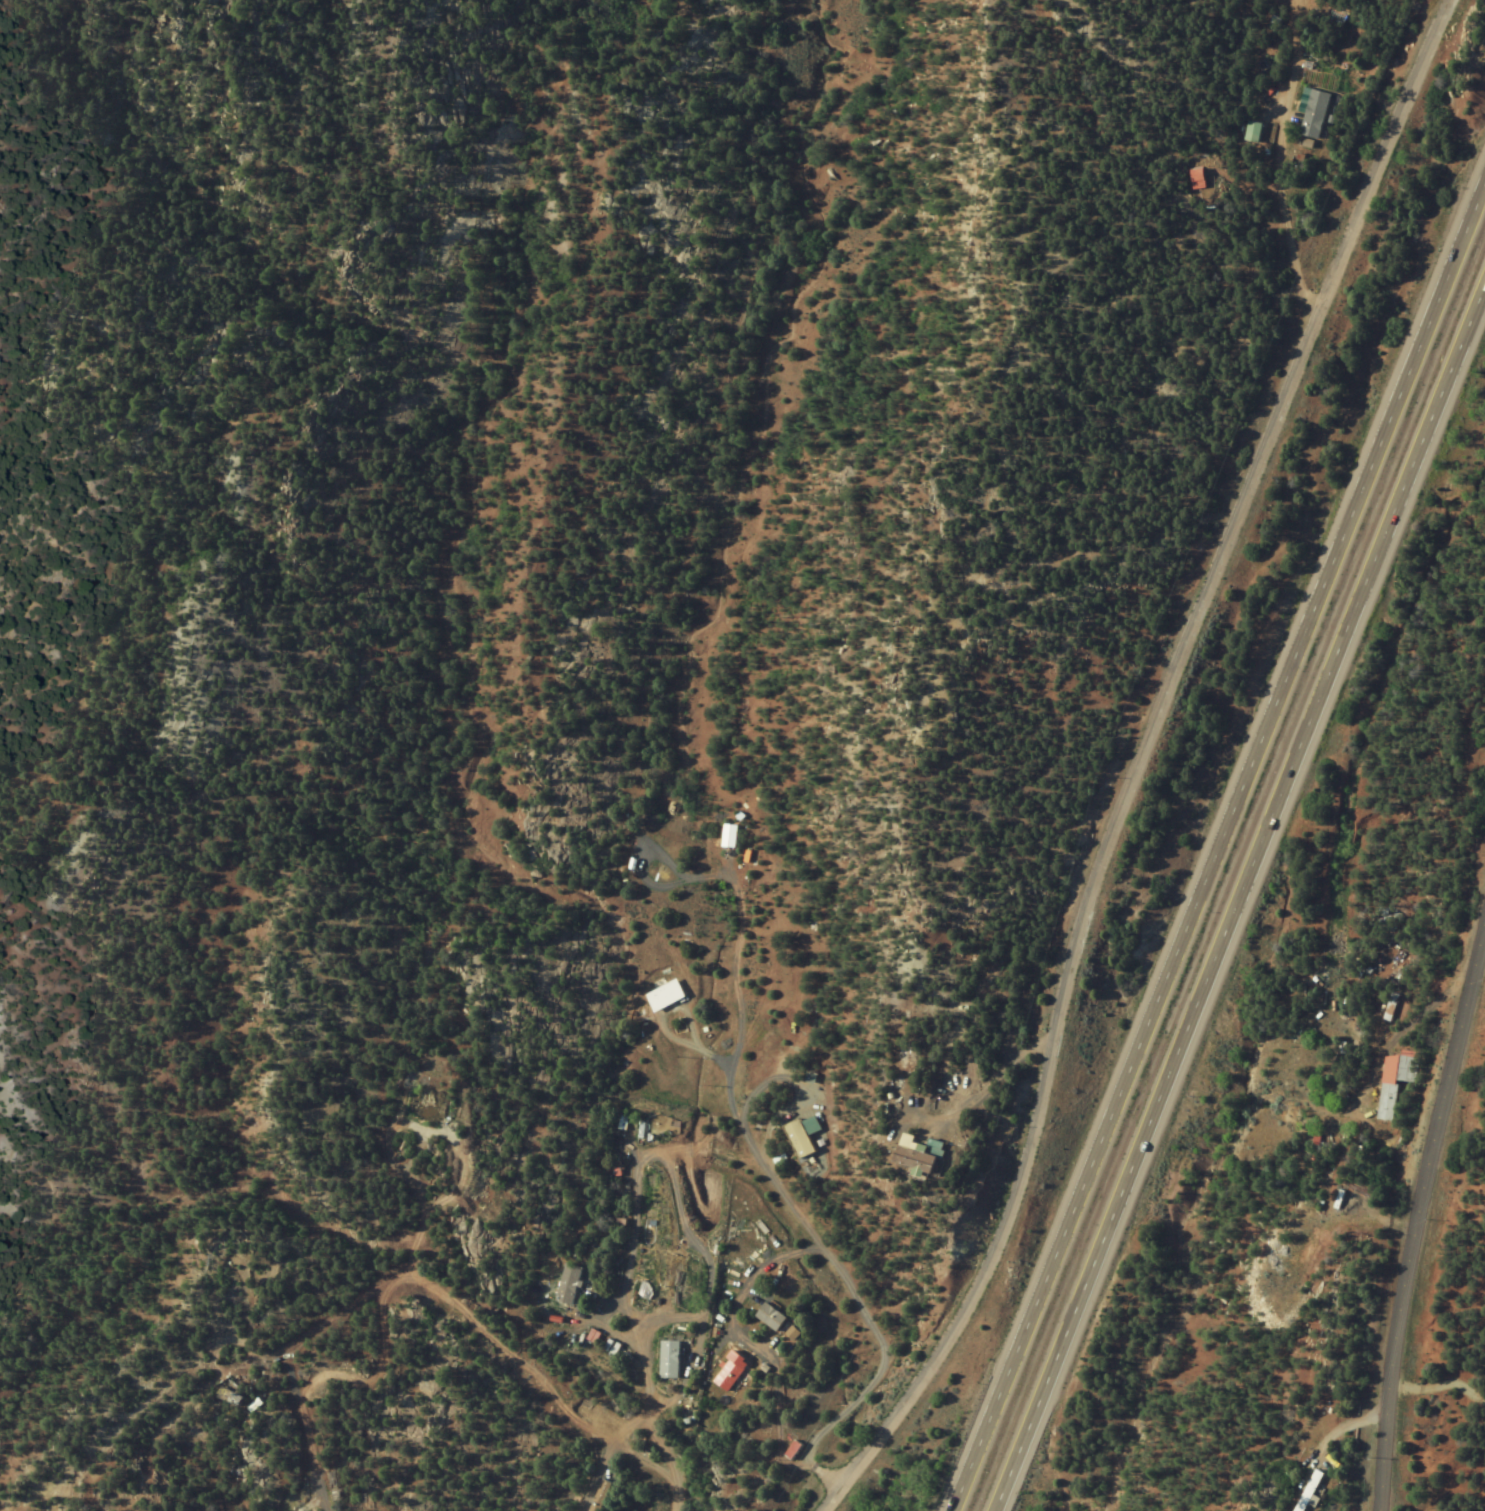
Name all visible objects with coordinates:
road: (1284, 2)
road: (1287, 2)
building: (1312, 114)
building: (1251, 132)
road: (1268, 163)
road: (1129, 760)
road: (1219, 853)
road: (1236, 899)
building: (1388, 1007)
building: (1392, 1082)
building: (800, 1136)
building: (912, 1156)
road: (1409, 1185)
building: (566, 1284)
building: (768, 1317)
road: (856, 1317)
building: (728, 1372)
building: (226, 1398)
road: (300, 1448)
building: (1306, 1490)

